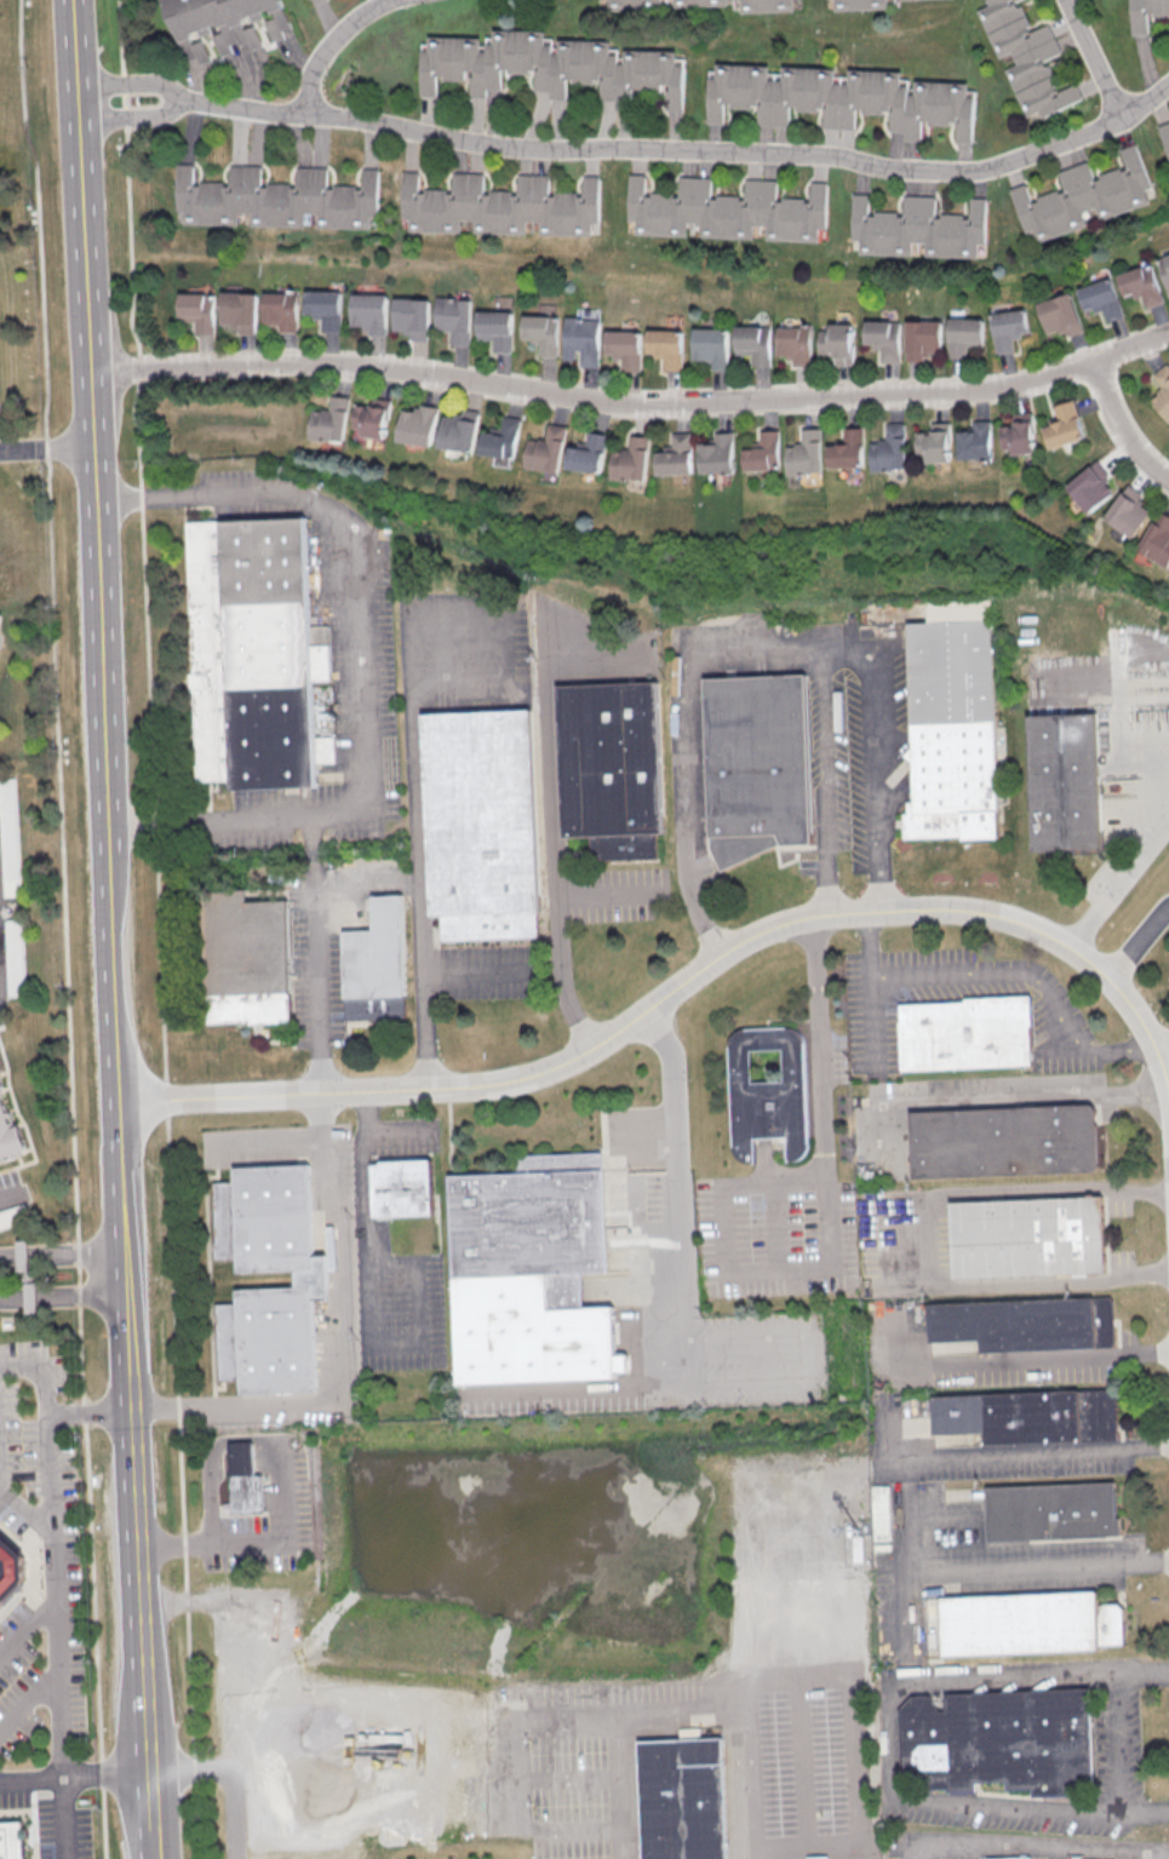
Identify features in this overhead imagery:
building: (699, 2)
building: (630, 4)
building: (858, 4)
building: (766, 5)
building: (1147, 13)
building: (223, 23)
road: (73, 29)
road: (327, 41)
building: (1026, 57)
road: (1095, 58)
building: (552, 65)
road: (133, 86)
building: (841, 97)
road: (134, 111)
building: (1165, 136)
road: (688, 153)
building: (1084, 196)
building: (273, 199)
building: (498, 206)
building: (727, 210)
building: (918, 228)
building: (1164, 270)
building: (1140, 285)
building: (1100, 298)
building: (320, 308)
building: (279, 309)
building: (194, 310)
building: (236, 311)
building: (365, 311)
building: (408, 315)
building: (449, 315)
building: (1059, 315)
building: (492, 328)
building: (1007, 328)
building: (537, 332)
building: (578, 335)
building: (962, 335)
building: (882, 339)
building: (922, 339)
building: (835, 342)
building: (750, 343)
building: (792, 343)
building: (707, 346)
building: (620, 348)
building: (661, 348)
building: (1162, 390)
road: (631, 403)
building: (371, 418)
building: (328, 421)
building: (417, 425)
building: (1064, 425)
road: (1122, 425)
building: (457, 431)
building: (1019, 434)
building: (499, 438)
building: (974, 441)
road: (91, 442)
building: (934, 442)
building: (847, 449)
building: (889, 449)
road: (61, 451)
building: (544, 452)
building: (763, 452)
road: (16, 453)
building: (588, 453)
building: (717, 453)
building: (806, 453)
building: (675, 455)
building: (630, 459)
building: (1090, 487)
building: (1129, 511)
road: (142, 539)
building: (1158, 539)
road: (348, 557)
building: (252, 654)
road: (871, 670)
building: (955, 724)
road: (682, 758)
building: (757, 767)
building: (613, 768)
building: (1066, 782)
road: (823, 784)
road: (414, 819)
road: (208, 822)
building: (481, 824)
road: (1142, 851)
road: (311, 855)
road: (550, 860)
street lamp: (941, 878)
street lamp: (986, 878)
road: (365, 879)
road: (620, 889)
road: (690, 891)
road: (64, 928)
road: (1136, 941)
building: (10, 957)
building: (247, 959)
building: (376, 965)
road: (481, 970)
parking lot: (485, 971)
road: (996, 974)
road: (681, 982)
road: (314, 993)
building: (967, 1034)
road: (1159, 1039)
building: (0, 1069)
building: (0, 1071)
road: (671, 1083)
building: (769, 1094)
road: (118, 1097)
road: (997, 1097)
road: (166, 1098)
road: (319, 1114)
road: (397, 1128)
building: (8, 1135)
road: (267, 1137)
building: (1005, 1141)
road: (783, 1178)
building: (402, 1189)
road: (7, 1198)
building: (532, 1223)
building: (1028, 1238)
road: (926, 1240)
road: (826, 1244)
road: (76, 1258)
road: (13, 1260)
building: (311, 1281)
road: (81, 1299)
road: (18, 1302)
road: (368, 1303)
building: (1026, 1325)
road: (1027, 1359)
road: (336, 1367)
road: (681, 1383)
road: (91, 1411)
building: (1027, 1417)
road: (50, 1425)
road: (1002, 1456)
road: (0, 1476)
building: (245, 1478)
road: (182, 1486)
building: (1051, 1511)
building: (879, 1513)
road: (27, 1515)
parking lot: (263, 1527)
road: (285, 1537)
road: (170, 1542)
parking lot: (61, 1566)
road: (1032, 1566)
building: (10, 1568)
road: (139, 1570)
road: (895, 1573)
building: (1031, 1624)
road: (28, 1628)
road: (30, 1698)
road: (61, 1698)
road: (682, 1711)
road: (899, 1739)
building: (1002, 1740)
road: (856, 1746)
road: (75, 1774)
road: (228, 1777)
building: (682, 1798)
road: (151, 1815)
parking lot: (48, 1819)
building: (12, 1841)
road: (1027, 1854)
road: (1156, 1854)
building: (819, 1858)
building: (1024, 1858)

